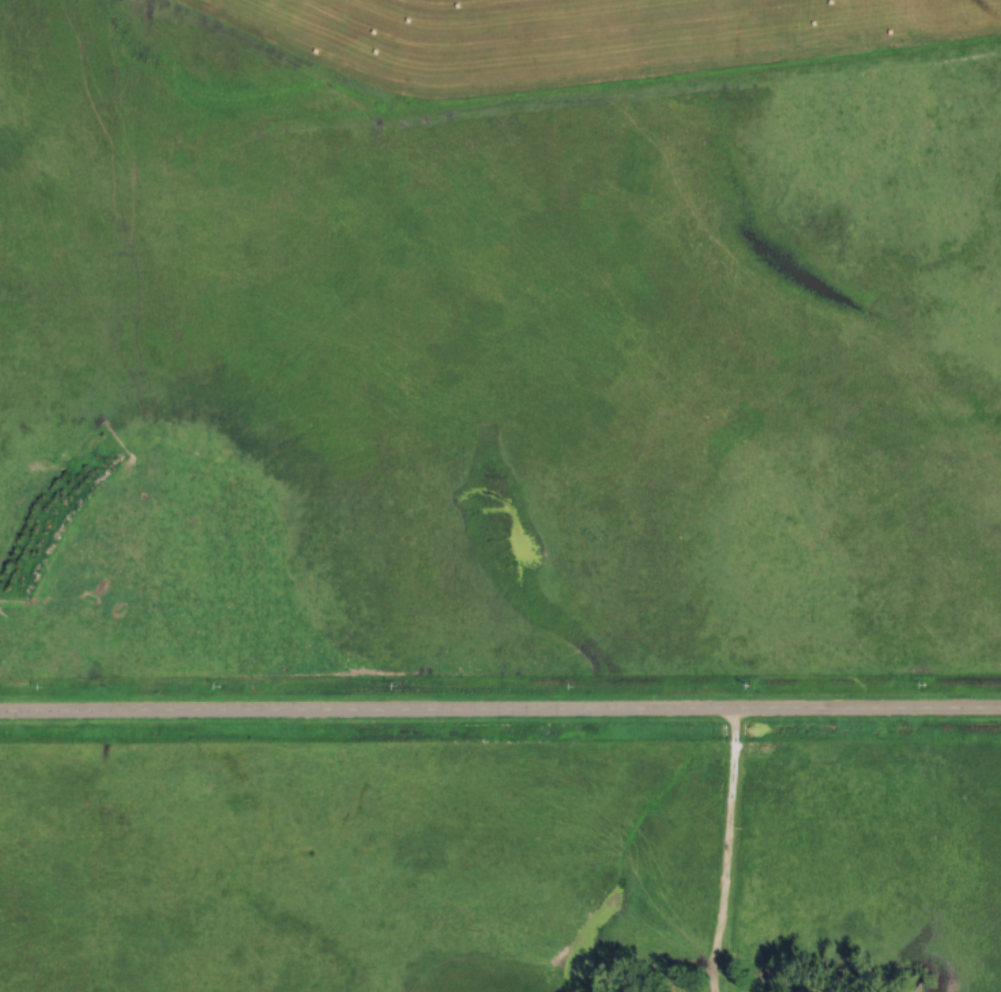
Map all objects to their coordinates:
road: (500, 715)
road: (727, 853)

